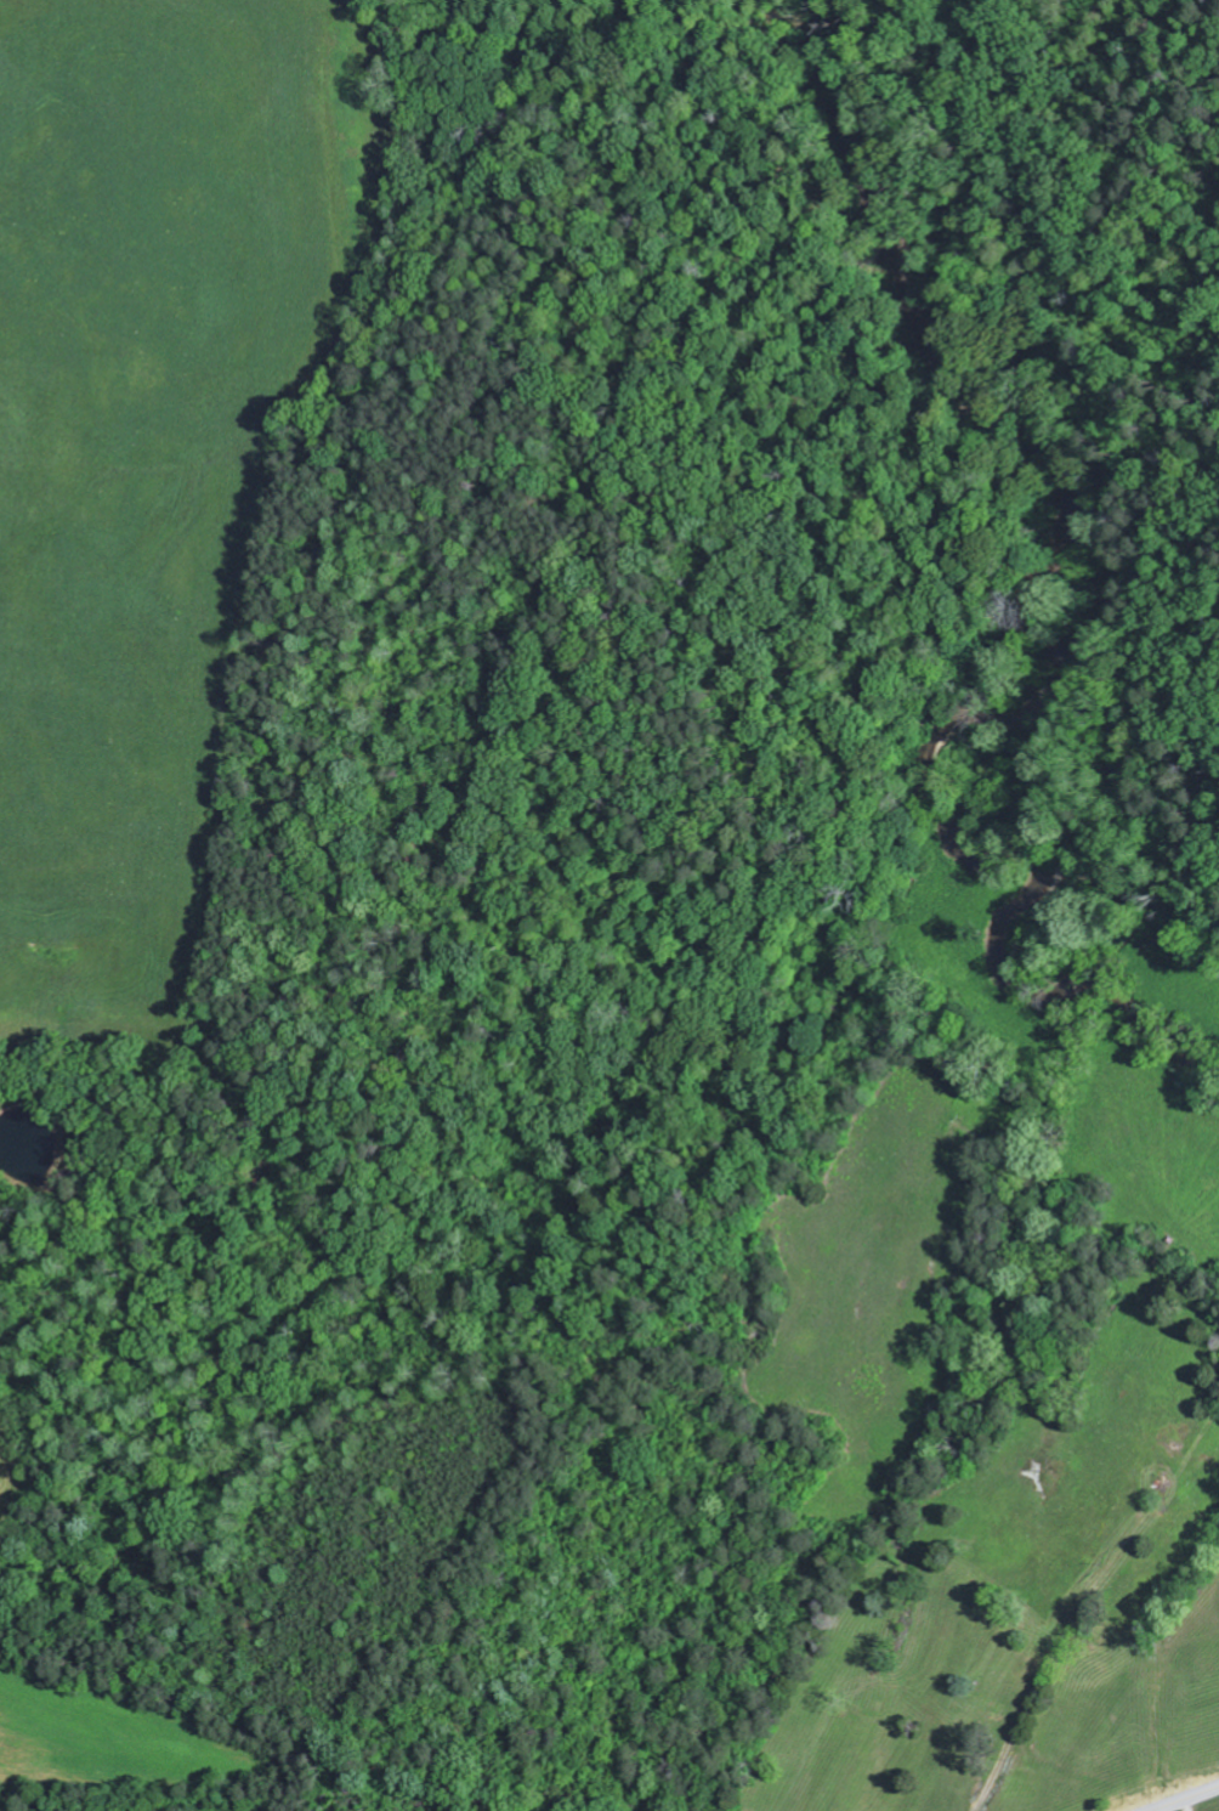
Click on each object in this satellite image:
road: (1051, 1686)
road: (1190, 1800)
park: (1211, 1807)

